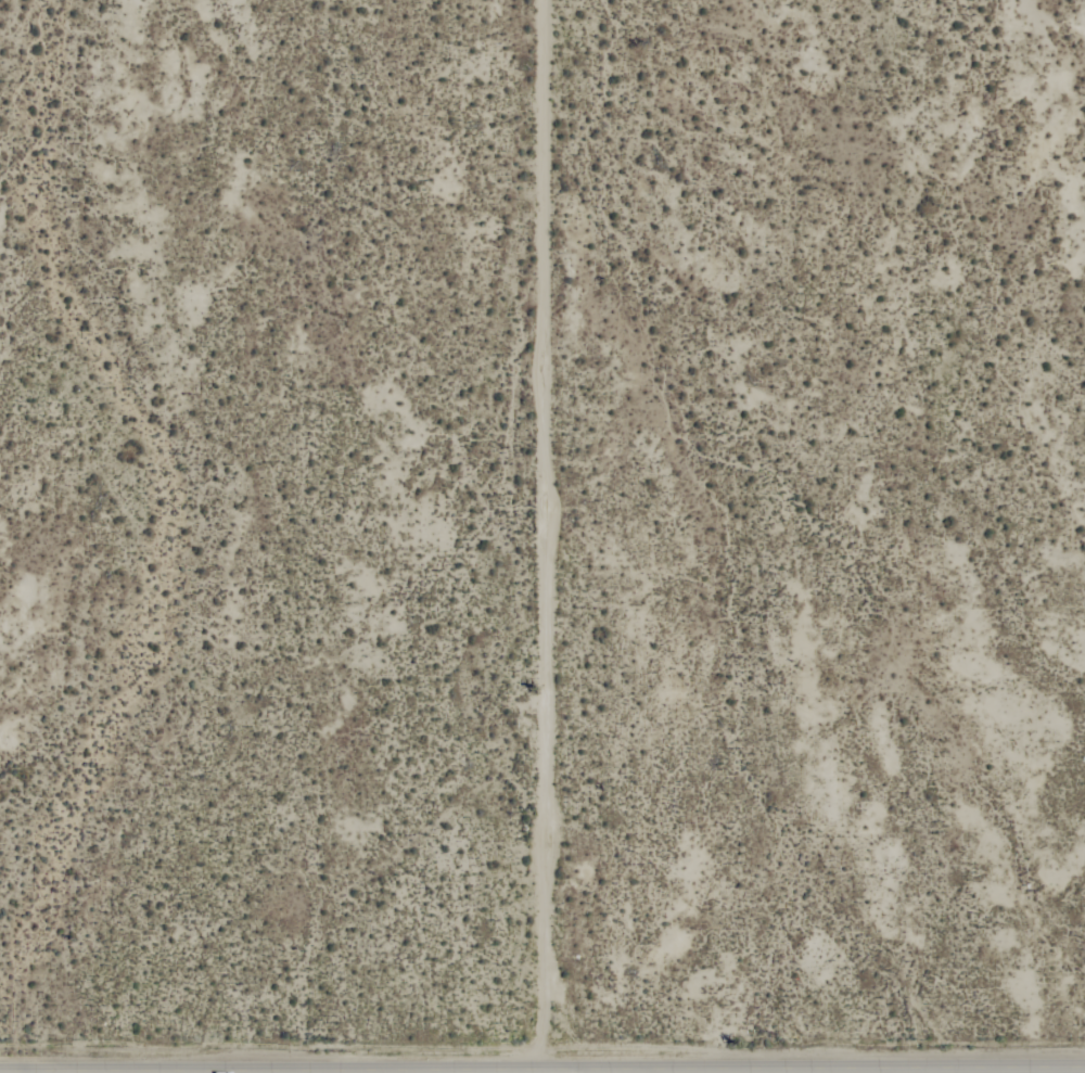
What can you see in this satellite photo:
road: (546, 534)
road: (541, 1069)
road: (450, 1071)

